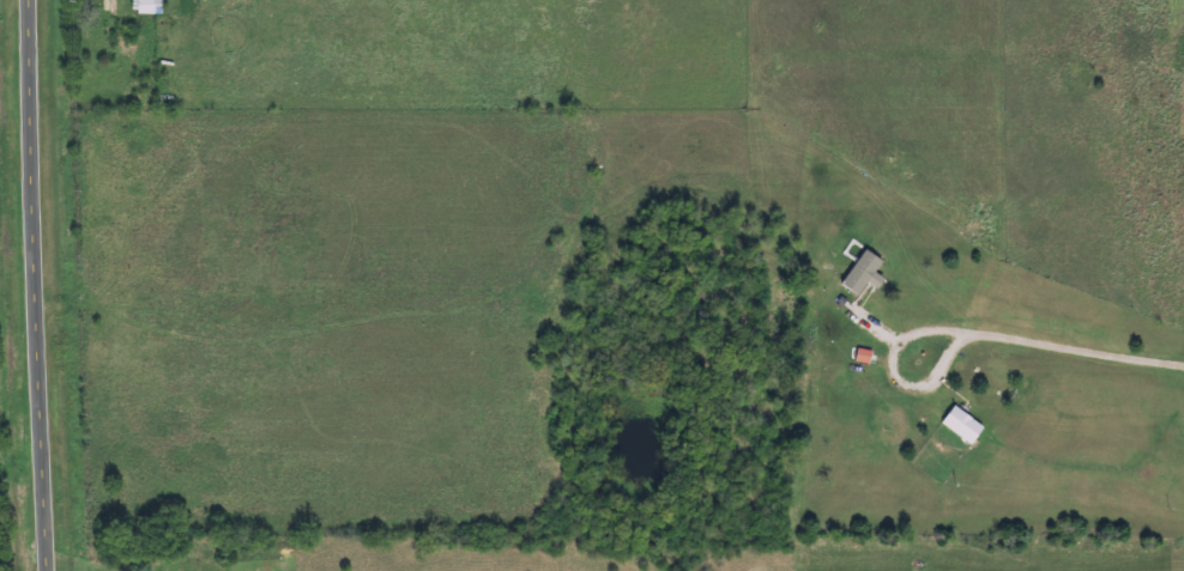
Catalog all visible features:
building: (868, 273)
road: (37, 285)
road: (1077, 357)
road: (899, 383)
building: (965, 426)

